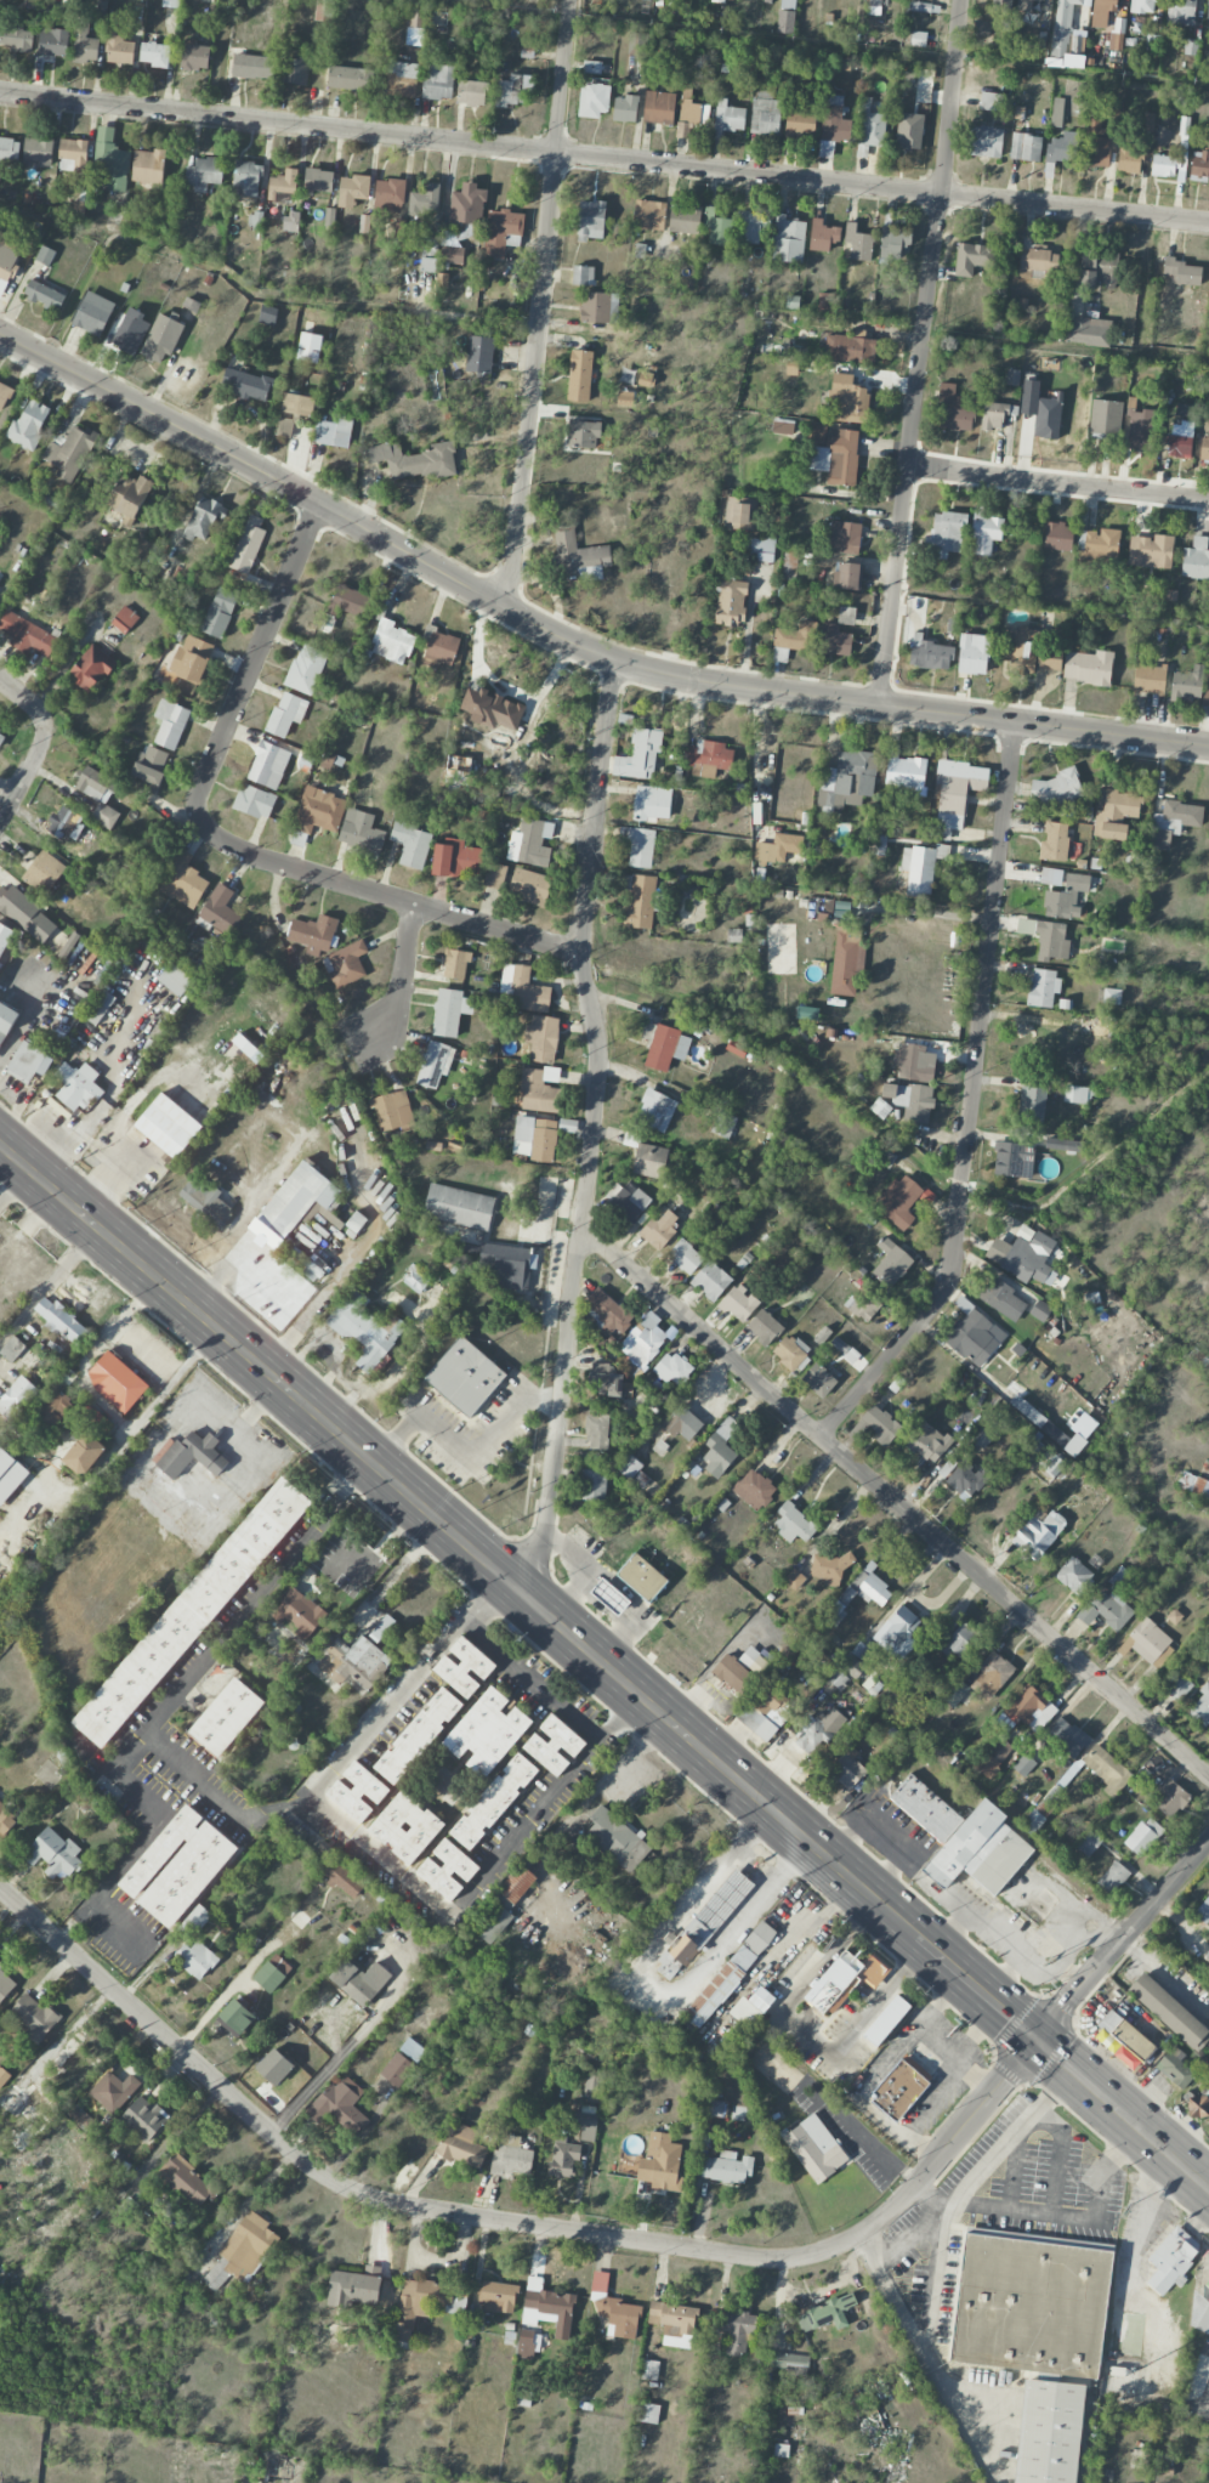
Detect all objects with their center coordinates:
building: (1001, 2)
building: (170, 4)
building: (1026, 5)
building: (921, 6)
building: (1142, 6)
building: (874, 7)
building: (322, 10)
building: (1208, 11)
building: (1102, 12)
building: (1181, 12)
building: (785, 16)
building: (418, 18)
building: (981, 28)
building: (1066, 30)
building: (16, 39)
building: (918, 39)
building: (1114, 40)
building: (53, 41)
building: (84, 41)
road: (804, 42)
building: (637, 44)
building: (118, 46)
building: (1191, 46)
building: (155, 53)
building: (194, 56)
road: (217, 57)
building: (252, 67)
building: (591, 67)
building: (295, 70)
building: (350, 78)
building: (402, 79)
building: (438, 81)
building: (511, 91)
building: (472, 93)
building: (594, 100)
building: (989, 101)
building: (658, 107)
building: (625, 108)
building: (692, 112)
building: (1057, 112)
building: (765, 115)
building: (730, 117)
building: (835, 120)
building: (800, 124)
building: (870, 125)
building: (909, 131)
building: (1184, 136)
building: (984, 141)
building: (1097, 143)
building: (1024, 147)
building: (1062, 147)
building: (8, 149)
building: (38, 151)
building: (74, 151)
road: (603, 158)
building: (110, 160)
building: (1129, 160)
building: (1199, 163)
building: (148, 166)
building: (204, 174)
building: (246, 178)
building: (318, 181)
building: (283, 186)
building: (352, 189)
building: (388, 194)
building: (425, 200)
building: (648, 215)
building: (685, 219)
building: (591, 220)
building: (290, 221)
building: (765, 221)
building: (717, 227)
building: (749, 227)
building: (399, 228)
building: (501, 231)
building: (822, 236)
building: (788, 239)
building: (858, 243)
building: (895, 243)
building: (452, 254)
building: (45, 255)
building: (974, 257)
building: (7, 259)
building: (1038, 262)
building: (428, 265)
building: (1099, 268)
building: (1181, 272)
building: (583, 274)
road: (260, 291)
building: (44, 295)
road: (74, 296)
building: (825, 302)
road: (541, 305)
building: (191, 306)
building: (598, 307)
building: (93, 313)
building: (268, 316)
building: (1088, 330)
building: (124, 334)
building: (161, 339)
road: (1066, 346)
building: (308, 347)
building: (850, 348)
road: (920, 351)
building: (479, 355)
building: (791, 367)
building: (579, 375)
building: (1012, 376)
building: (646, 379)
building: (248, 385)
building: (4, 395)
building: (847, 399)
building: (297, 404)
building: (953, 410)
building: (997, 414)
building: (1105, 416)
building: (1046, 418)
building: (28, 425)
building: (284, 427)
building: (782, 427)
building: (1141, 430)
building: (334, 432)
building: (1181, 432)
building: (583, 433)
building: (1204, 448)
building: (70, 453)
building: (834, 454)
building: (415, 460)
road: (1058, 481)
building: (129, 497)
building: (740, 515)
building: (204, 518)
building: (946, 533)
building: (986, 533)
building: (845, 537)
building: (1058, 537)
building: (248, 544)
building: (1100, 545)
building: (142, 548)
building: (761, 549)
building: (1151, 551)
building: (579, 556)
building: (1196, 559)
building: (789, 565)
building: (847, 576)
building: (346, 601)
building: (731, 602)
road: (1051, 603)
building: (218, 612)
building: (846, 616)
building: (124, 619)
building: (27, 634)
building: (795, 636)
road: (571, 640)
building: (834, 640)
building: (392, 642)
building: (442, 648)
building: (974, 653)
building: (1029, 653)
building: (931, 654)
road: (255, 656)
building: (192, 658)
building: (1088, 667)
building: (91, 668)
building: (306, 669)
building: (1150, 679)
building: (1187, 685)
building: (492, 709)
building: (286, 713)
building: (170, 724)
building: (1, 736)
road: (42, 744)
building: (640, 755)
building: (710, 755)
building: (459, 764)
building: (268, 765)
building: (151, 766)
building: (906, 771)
building: (847, 781)
building: (1057, 788)
building: (957, 793)
building: (98, 795)
building: (254, 801)
building: (652, 803)
building: (318, 811)
building: (1179, 814)
building: (1117, 815)
building: (66, 823)
building: (361, 832)
building: (1158, 839)
building: (1055, 841)
building: (530, 843)
building: (411, 844)
building: (879, 844)
building: (638, 845)
building: (778, 847)
building: (69, 850)
building: (456, 860)
building: (918, 869)
building: (42, 873)
building: (494, 875)
building: (1051, 877)
building: (183, 881)
building: (529, 886)
road: (381, 894)
building: (1066, 897)
building: (640, 901)
building: (220, 909)
road: (929, 911)
building: (25, 914)
building: (313, 931)
building: (734, 935)
building: (5, 937)
building: (1049, 939)
building: (847, 962)
building: (345, 964)
building: (455, 964)
building: (175, 980)
building: (1043, 987)
building: (523, 988)
road: (399, 996)
building: (1112, 996)
building: (1065, 1004)
building: (100, 1007)
building: (450, 1011)
building: (807, 1013)
building: (6, 1021)
building: (541, 1038)
building: (664, 1045)
building: (248, 1048)
building: (737, 1048)
building: (29, 1062)
building: (913, 1062)
building: (435, 1064)
building: (76, 1085)
building: (540, 1089)
building: (1077, 1094)
building: (910, 1100)
road: (971, 1100)
building: (1032, 1105)
building: (880, 1107)
building: (655, 1110)
building: (392, 1111)
building: (723, 1124)
building: (168, 1126)
road: (595, 1126)
building: (535, 1138)
road: (907, 1144)
building: (1065, 1145)
building: (1009, 1158)
building: (649, 1161)
road: (13, 1183)
building: (206, 1201)
building: (294, 1201)
building: (899, 1201)
building: (630, 1203)
building: (459, 1207)
building: (356, 1221)
building: (659, 1230)
building: (1023, 1255)
building: (685, 1257)
building: (891, 1262)
building: (507, 1264)
building: (416, 1279)
building: (710, 1280)
road: (49, 1283)
building: (1001, 1299)
building: (739, 1303)
building: (864, 1304)
building: (1040, 1310)
building: (607, 1314)
building: (59, 1320)
building: (765, 1327)
building: (365, 1330)
building: (974, 1334)
building: (822, 1336)
building: (643, 1339)
building: (12, 1349)
building: (790, 1351)
building: (847, 1353)
building: (672, 1370)
building: (465, 1376)
building: (119, 1379)
building: (607, 1381)
building: (819, 1381)
building: (16, 1398)
building: (53, 1408)
building: (96, 1419)
building: (1038, 1419)
building: (682, 1422)
building: (881, 1424)
building: (596, 1432)
building: (981, 1436)
building: (926, 1441)
building: (1074, 1445)
road: (464, 1447)
building: (659, 1447)
building: (720, 1447)
building: (84, 1453)
building: (188, 1457)
building: (947, 1468)
building: (634, 1473)
building: (10, 1474)
building: (965, 1480)
building: (594, 1484)
building: (1193, 1485)
building: (754, 1489)
road: (896, 1501)
building: (793, 1523)
building: (1035, 1536)
building: (829, 1569)
building: (1074, 1576)
building: (642, 1577)
building: (795, 1580)
road: (569, 1588)
road: (623, 1588)
building: (859, 1595)
building: (611, 1597)
road: (601, 1605)
building: (1105, 1610)
building: (192, 1611)
building: (299, 1611)
building: (1174, 1616)
building: (946, 1625)
building: (382, 1627)
building: (898, 1633)
building: (1145, 1640)
building: (960, 1642)
building: (855, 1660)
building: (753, 1661)
building: (354, 1662)
road: (606, 1665)
building: (464, 1667)
building: (733, 1673)
building: (992, 1674)
building: (838, 1679)
road: (532, 1682)
building: (1179, 1688)
building: (954, 1693)
road: (166, 1701)
building: (1032, 1708)
building: (1201, 1708)
building: (765, 1711)
building: (226, 1717)
building: (1006, 1718)
building: (819, 1730)
building: (487, 1731)
building: (418, 1735)
building: (1067, 1737)
building: (555, 1745)
building: (995, 1758)
road: (339, 1761)
building: (1023, 1764)
building: (847, 1769)
building: (1107, 1769)
building: (445, 1779)
building: (1066, 1779)
building: (357, 1792)
building: (1168, 1797)
building: (494, 1801)
road: (545, 1803)
building: (925, 1808)
building: (6, 1820)
building: (405, 1827)
building: (1143, 1836)
building: (617, 1839)
building: (1089, 1843)
building: (980, 1850)
road: (378, 1852)
building: (55, 1854)
building: (178, 1866)
building: (447, 1870)
building: (1112, 1877)
building: (342, 1880)
building: (515, 1887)
building: (1203, 1912)
road: (118, 1920)
building: (193, 1922)
building: (493, 1922)
building: (702, 1926)
road: (1122, 1940)
road: (1021, 1956)
building: (197, 1958)
building: (272, 1973)
building: (730, 1974)
road: (1003, 1974)
road: (1069, 1974)
building: (842, 1978)
building: (352, 1983)
building: (5, 1984)
road: (651, 1986)
road: (232, 1988)
building: (751, 2007)
building: (1169, 2011)
building: (34, 2017)
building: (235, 2018)
building: (886, 2020)
road: (806, 2033)
traffic signals: (1037, 2039)
building: (1123, 2040)
road: (348, 2046)
road: (957, 2058)
building: (72, 2063)
building: (1175, 2068)
building: (396, 2069)
road: (878, 2071)
building: (4, 2076)
building: (591, 2084)
building: (899, 2088)
building: (114, 2091)
road: (935, 2101)
building: (339, 2105)
building: (715, 2108)
building: (21, 2113)
building: (80, 2118)
building: (143, 2118)
building: (585, 2122)
road: (862, 2131)
building: (461, 2145)
building: (816, 2148)
building: (511, 2156)
road: (1058, 2156)
building: (563, 2158)
building: (660, 2164)
building: (727, 2167)
road: (1014, 2169)
building: (187, 2182)
road: (961, 2193)
road: (926, 2195)
road: (507, 2220)
road: (1078, 2220)
road: (1141, 2228)
road: (910, 2229)
building: (242, 2252)
building: (1171, 2260)
building: (1208, 2285)
building: (353, 2286)
building: (498, 2297)
building: (425, 2303)
building: (1031, 2306)
building: (547, 2308)
building: (614, 2309)
building: (824, 2312)
building: (1199, 2314)
building: (475, 2322)
building: (674, 2323)
building: (737, 2330)
building: (528, 2345)
road: (926, 2360)
building: (791, 2363)
building: (649, 2370)
building: (648, 2413)
building: (1049, 2432)
building: (1164, 2470)

